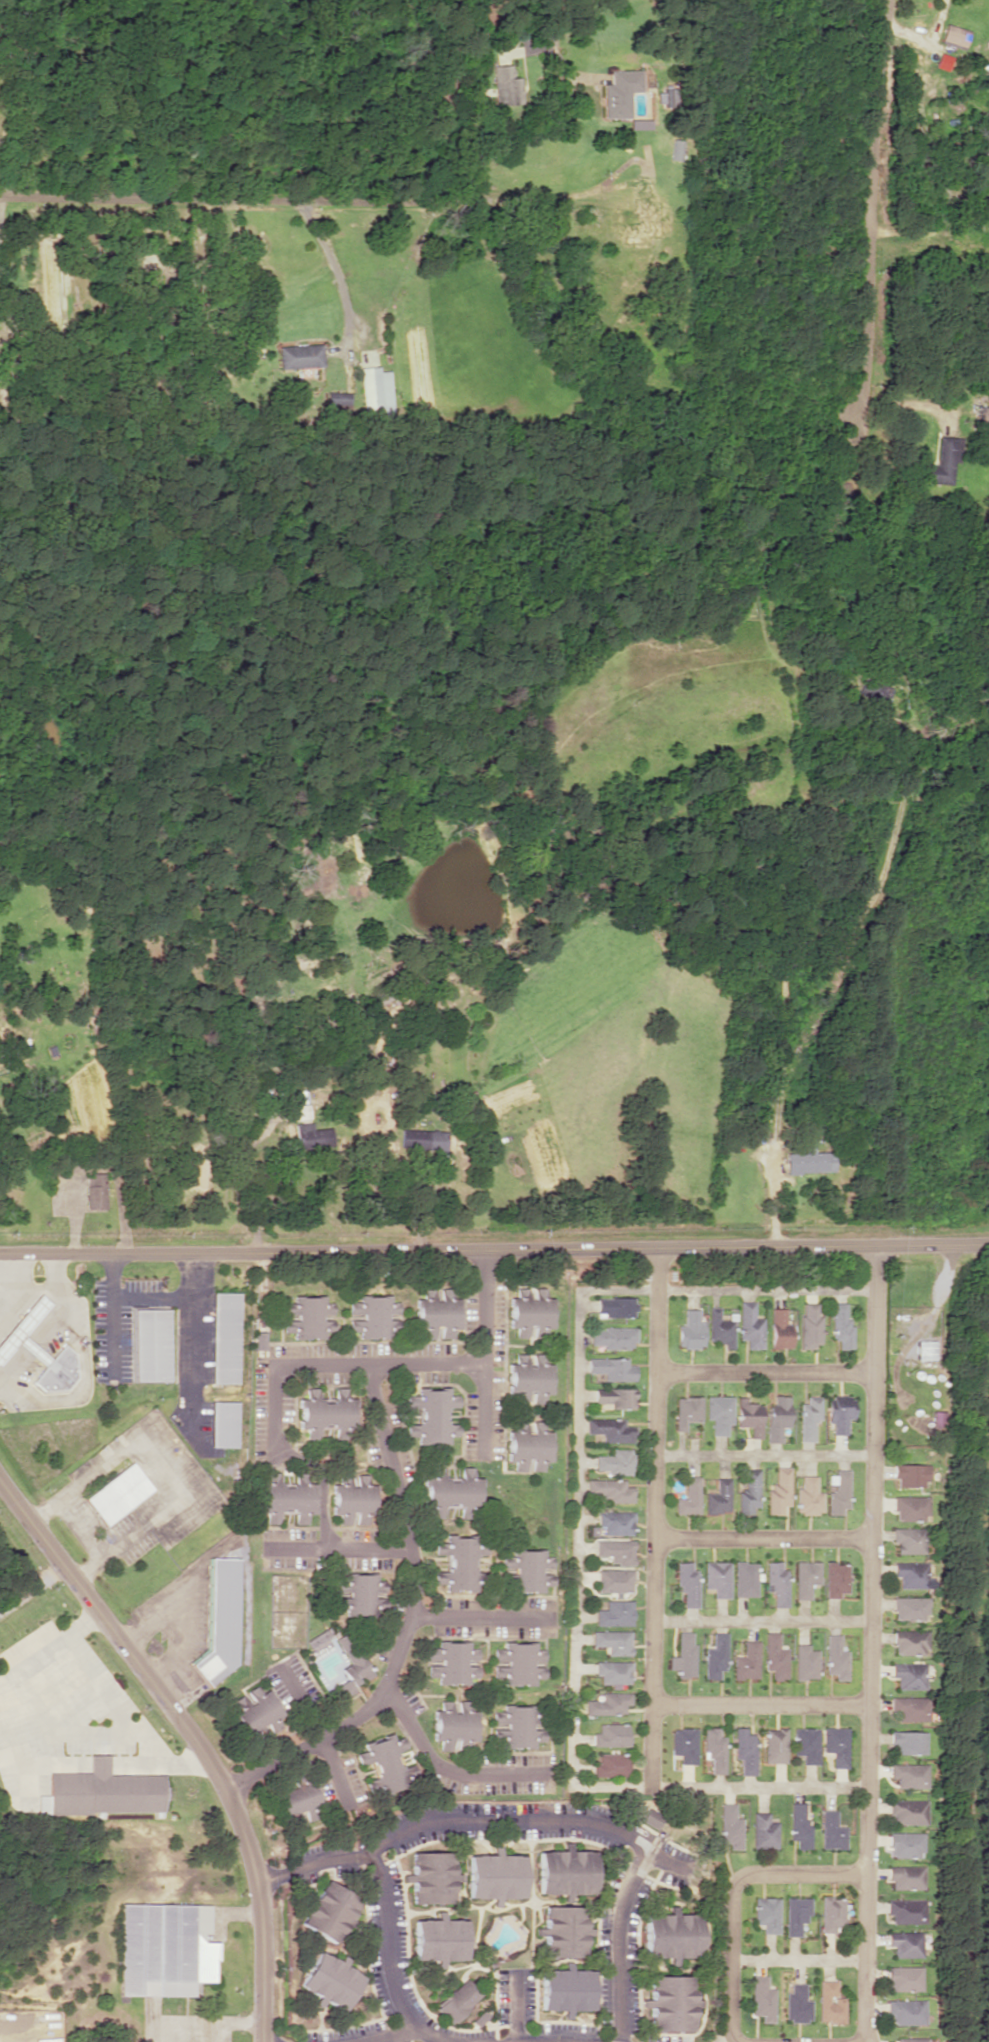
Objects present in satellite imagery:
building: (953, 34)
building: (506, 85)
building: (620, 92)
building: (676, 149)
road: (124, 199)
road: (863, 208)
building: (643, 222)
building: (300, 355)
building: (376, 394)
building: (942, 462)
building: (312, 1135)
building: (423, 1139)
building: (808, 1160)
building: (95, 1190)
road: (494, 1246)
building: (615, 1306)
building: (529, 1312)
building: (436, 1313)
building: (309, 1316)
building: (372, 1316)
building: (841, 1324)
building: (750, 1325)
building: (810, 1325)
building: (720, 1327)
building: (779, 1327)
building: (690, 1329)
building: (225, 1337)
building: (614, 1337)
building: (260, 1340)
building: (152, 1344)
building: (924, 1349)
road: (279, 1364)
building: (57, 1368)
building: (612, 1368)
road: (765, 1374)
building: (528, 1378)
building: (617, 1397)
road: (481, 1405)
building: (687, 1410)
building: (326, 1412)
building: (719, 1412)
building: (431, 1414)
building: (749, 1415)
building: (808, 1417)
building: (838, 1417)
building: (777, 1418)
building: (224, 1423)
building: (611, 1429)
building: (527, 1447)
road: (764, 1452)
building: (616, 1462)
building: (909, 1475)
building: (610, 1490)
building: (778, 1490)
building: (837, 1491)
building: (749, 1492)
building: (117, 1493)
building: (451, 1493)
building: (808, 1496)
building: (287, 1497)
building: (689, 1497)
building: (718, 1497)
building: (353, 1499)
road: (396, 1502)
building: (909, 1508)
road: (654, 1521)
building: (616, 1522)
road: (576, 1536)
road: (762, 1540)
building: (908, 1540)
road: (339, 1547)
building: (616, 1550)
building: (458, 1562)
building: (526, 1569)
building: (910, 1574)
building: (717, 1577)
building: (805, 1577)
building: (744, 1578)
building: (835, 1579)
building: (614, 1580)
building: (776, 1582)
building: (687, 1583)
building: (359, 1593)
building: (909, 1608)
building: (615, 1613)
road: (475, 1614)
building: (220, 1619)
road: (760, 1619)
building: (318, 1638)
building: (613, 1641)
building: (909, 1641)
road: (867, 1643)
building: (684, 1656)
building: (715, 1656)
building: (775, 1656)
building: (835, 1657)
building: (746, 1661)
building: (453, 1662)
building: (805, 1662)
building: (519, 1663)
building: (352, 1669)
building: (613, 1671)
building: (908, 1675)
road: (303, 1701)
building: (609, 1704)
road: (760, 1704)
building: (909, 1708)
building: (253, 1709)
building: (453, 1724)
building: (516, 1726)
building: (612, 1735)
road: (192, 1737)
building: (907, 1741)
building: (805, 1744)
building: (774, 1745)
building: (835, 1745)
building: (683, 1746)
building: (714, 1749)
building: (744, 1750)
building: (386, 1762)
road: (332, 1763)
building: (612, 1764)
road: (440, 1765)
building: (908, 1774)
building: (102, 1791)
building: (298, 1796)
building: (908, 1811)
building: (650, 1818)
road: (527, 1820)
building: (798, 1824)
building: (729, 1826)
building: (763, 1831)
building: (831, 1831)
building: (905, 1844)
building: (565, 1871)
building: (495, 1876)
building: (432, 1877)
building: (906, 1877)
road: (730, 1895)
road: (383, 1906)
building: (330, 1910)
building: (906, 1910)
building: (831, 1913)
building: (766, 1914)
building: (795, 1914)
building: (564, 1931)
building: (672, 1935)
road: (614, 1941)
building: (905, 1943)
building: (165, 1948)
road: (798, 1957)
building: (904, 1978)
building: (331, 1980)
building: (566, 1989)
building: (761, 1998)
building: (458, 2000)
building: (671, 2002)
building: (829, 2002)
building: (796, 2004)
road: (516, 2010)
building: (905, 2011)
road: (430, 2033)
road: (722, 2035)
road: (543, 2039)
building: (911, 2040)

